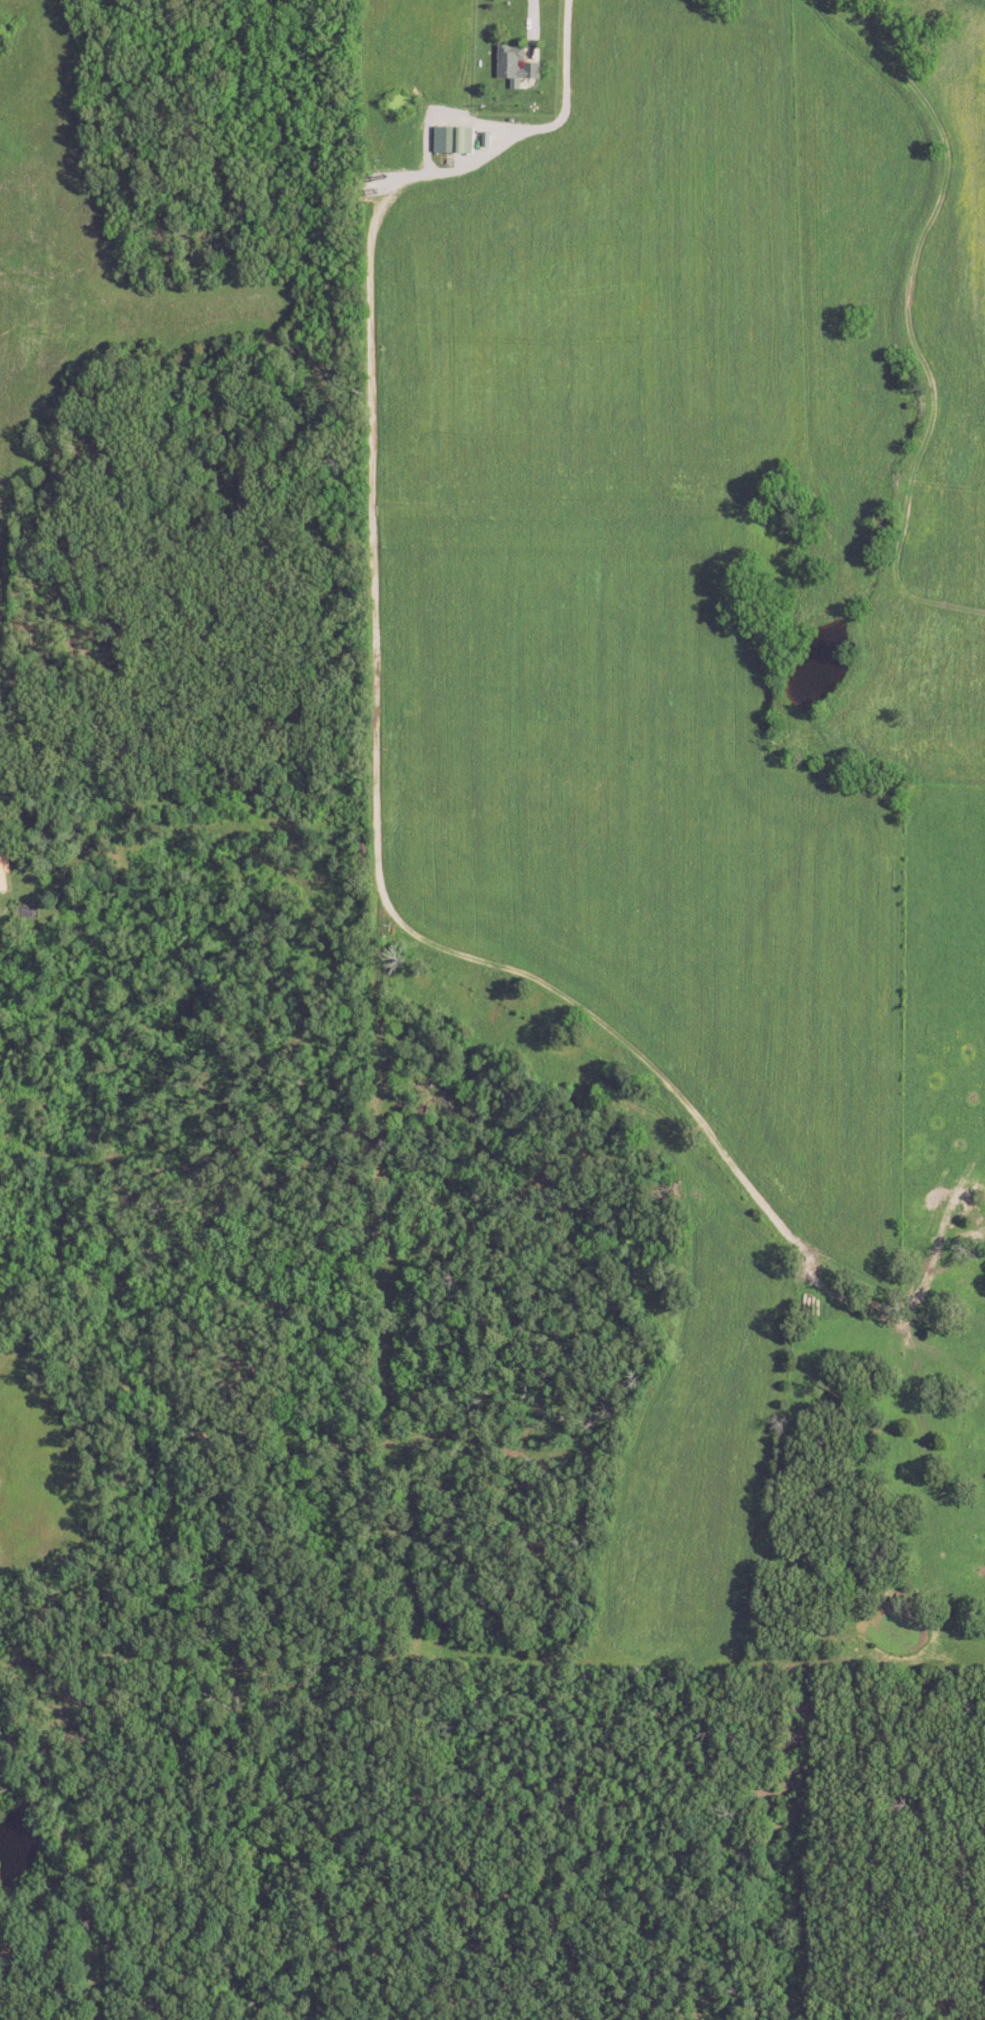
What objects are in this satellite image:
road: (533, 20)
building: (521, 67)
road: (568, 94)
building: (459, 140)
building: (5, 871)

